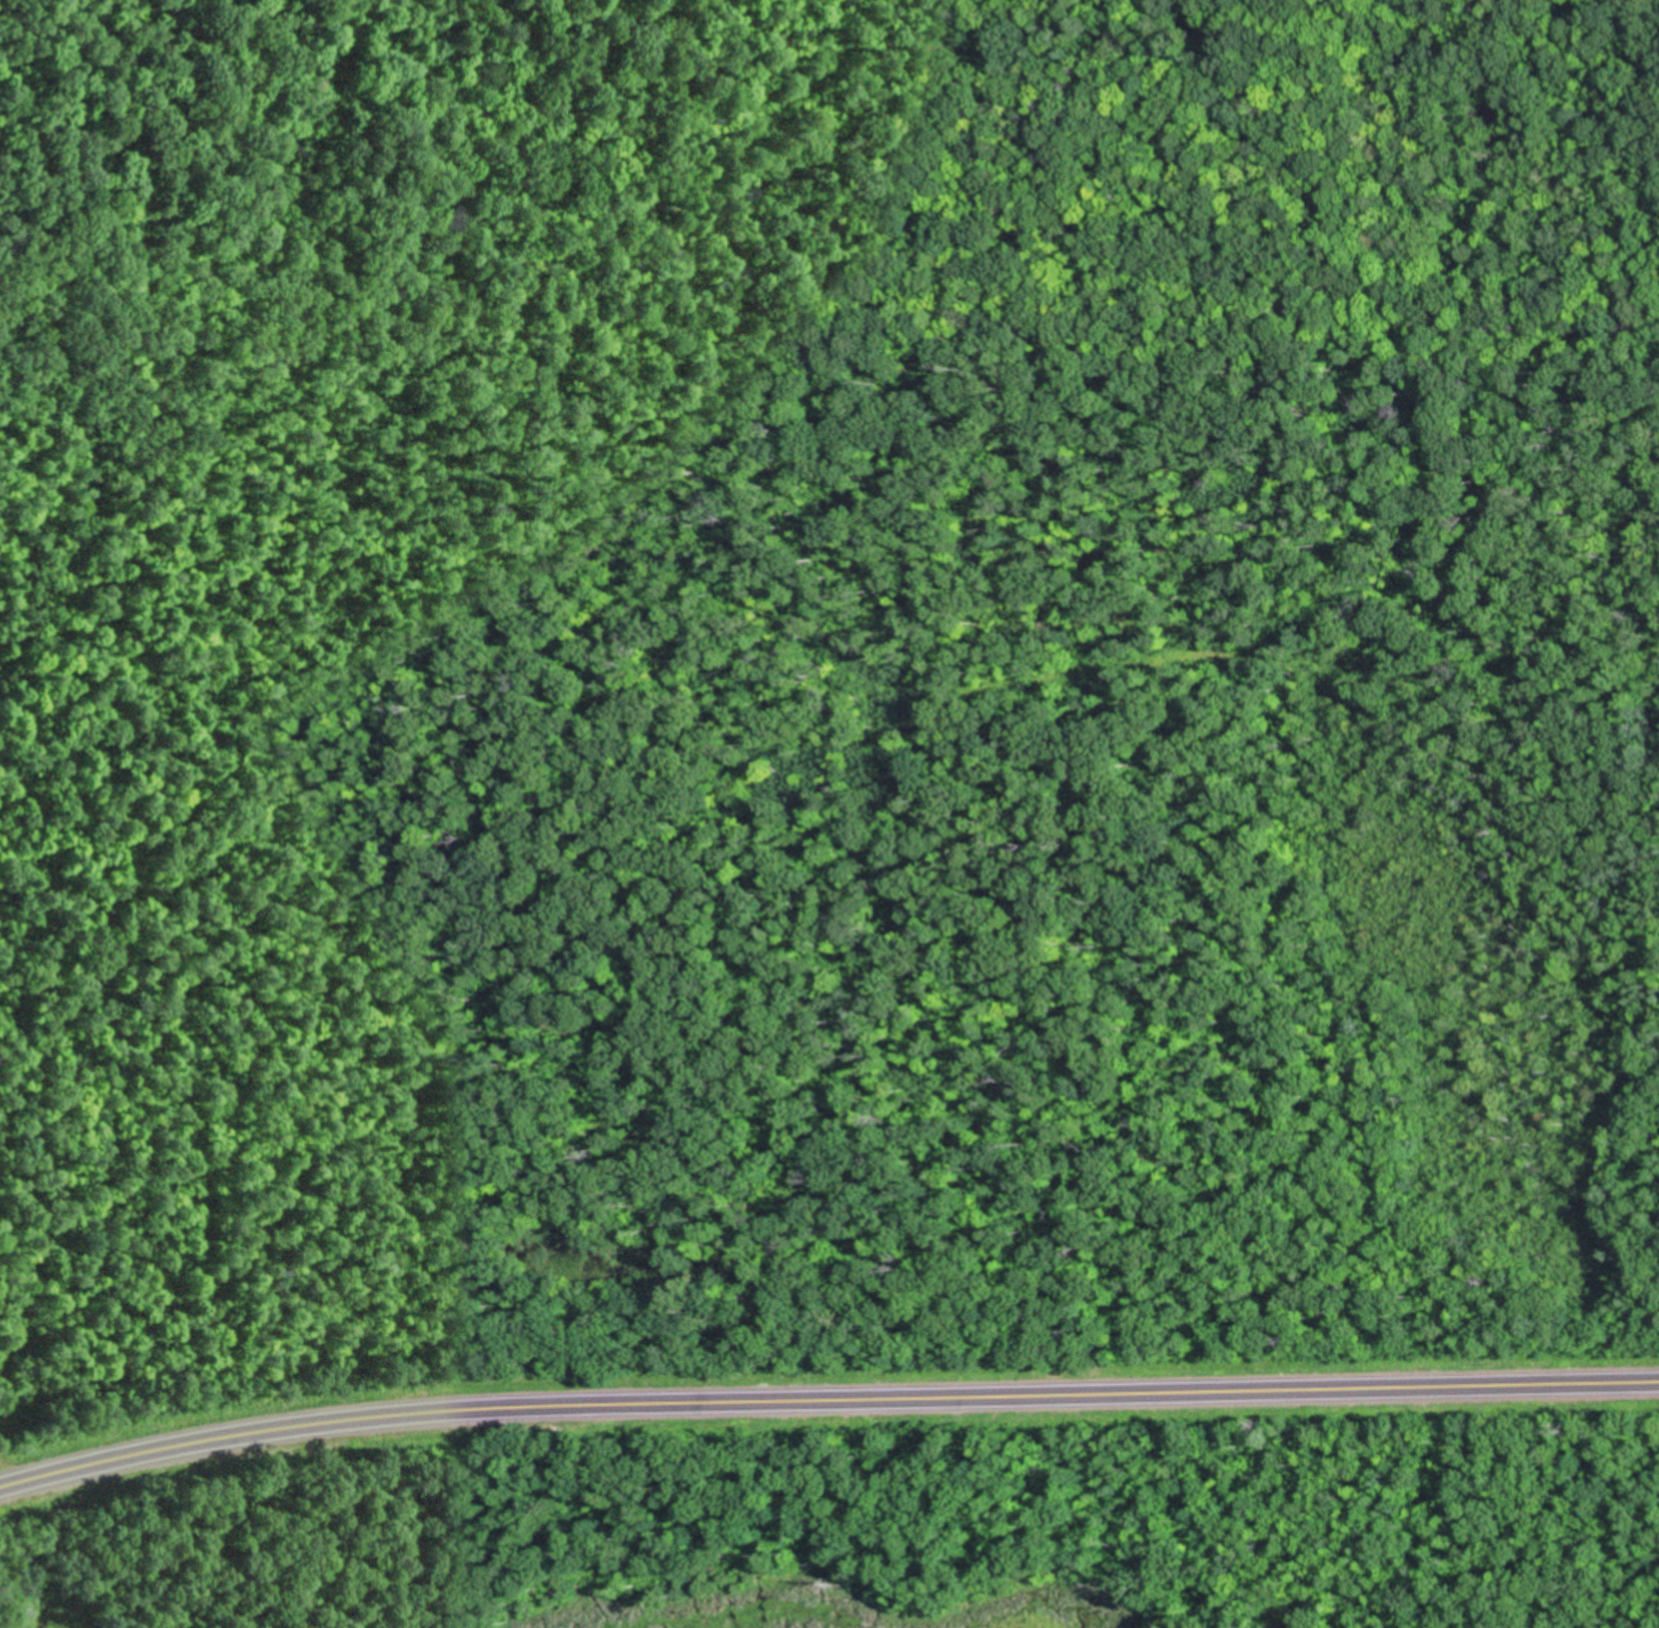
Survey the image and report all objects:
road: (825, 1396)

